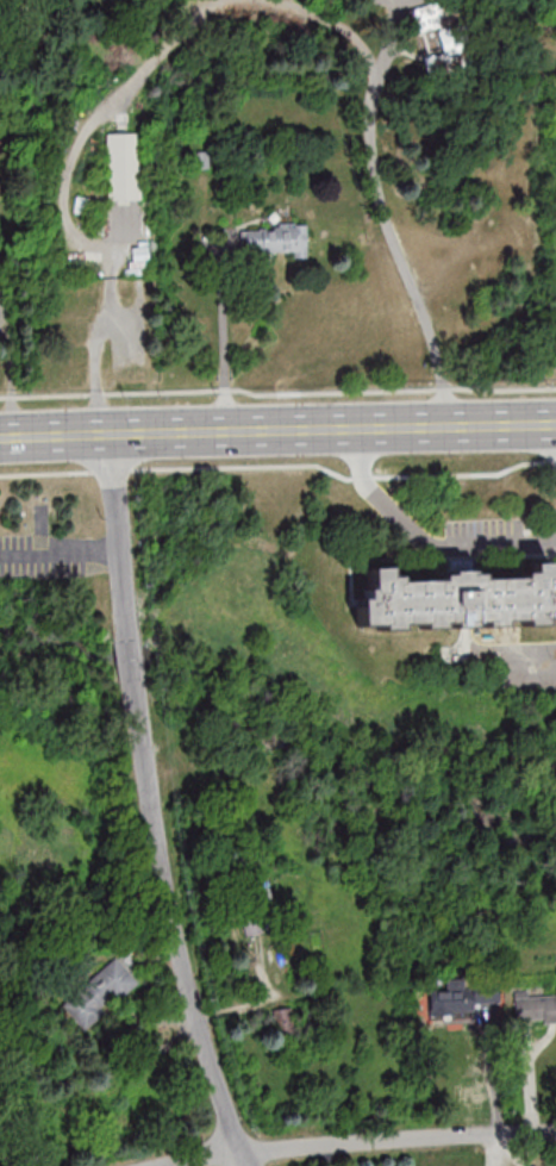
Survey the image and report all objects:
parking lot: (398, 5)
building: (446, 38)
road: (123, 94)
building: (126, 167)
road: (382, 217)
building: (277, 239)
road: (101, 323)
road: (223, 341)
road: (445, 388)
road: (504, 389)
road: (96, 394)
road: (269, 394)
road: (44, 395)
road: (277, 430)
road: (552, 460)
road: (244, 466)
road: (111, 472)
road: (44, 473)
road: (462, 474)
road: (363, 476)
parking lot: (486, 534)
road: (118, 537)
road: (421, 541)
road: (60, 556)
road: (458, 556)
road: (455, 559)
building: (455, 600)
road: (504, 649)
road: (130, 656)
parking lot: (529, 682)
building: (254, 911)
road: (174, 923)
building: (100, 992)
building: (451, 1003)
building: (535, 1008)
road: (360, 1142)
road: (7, 1154)

